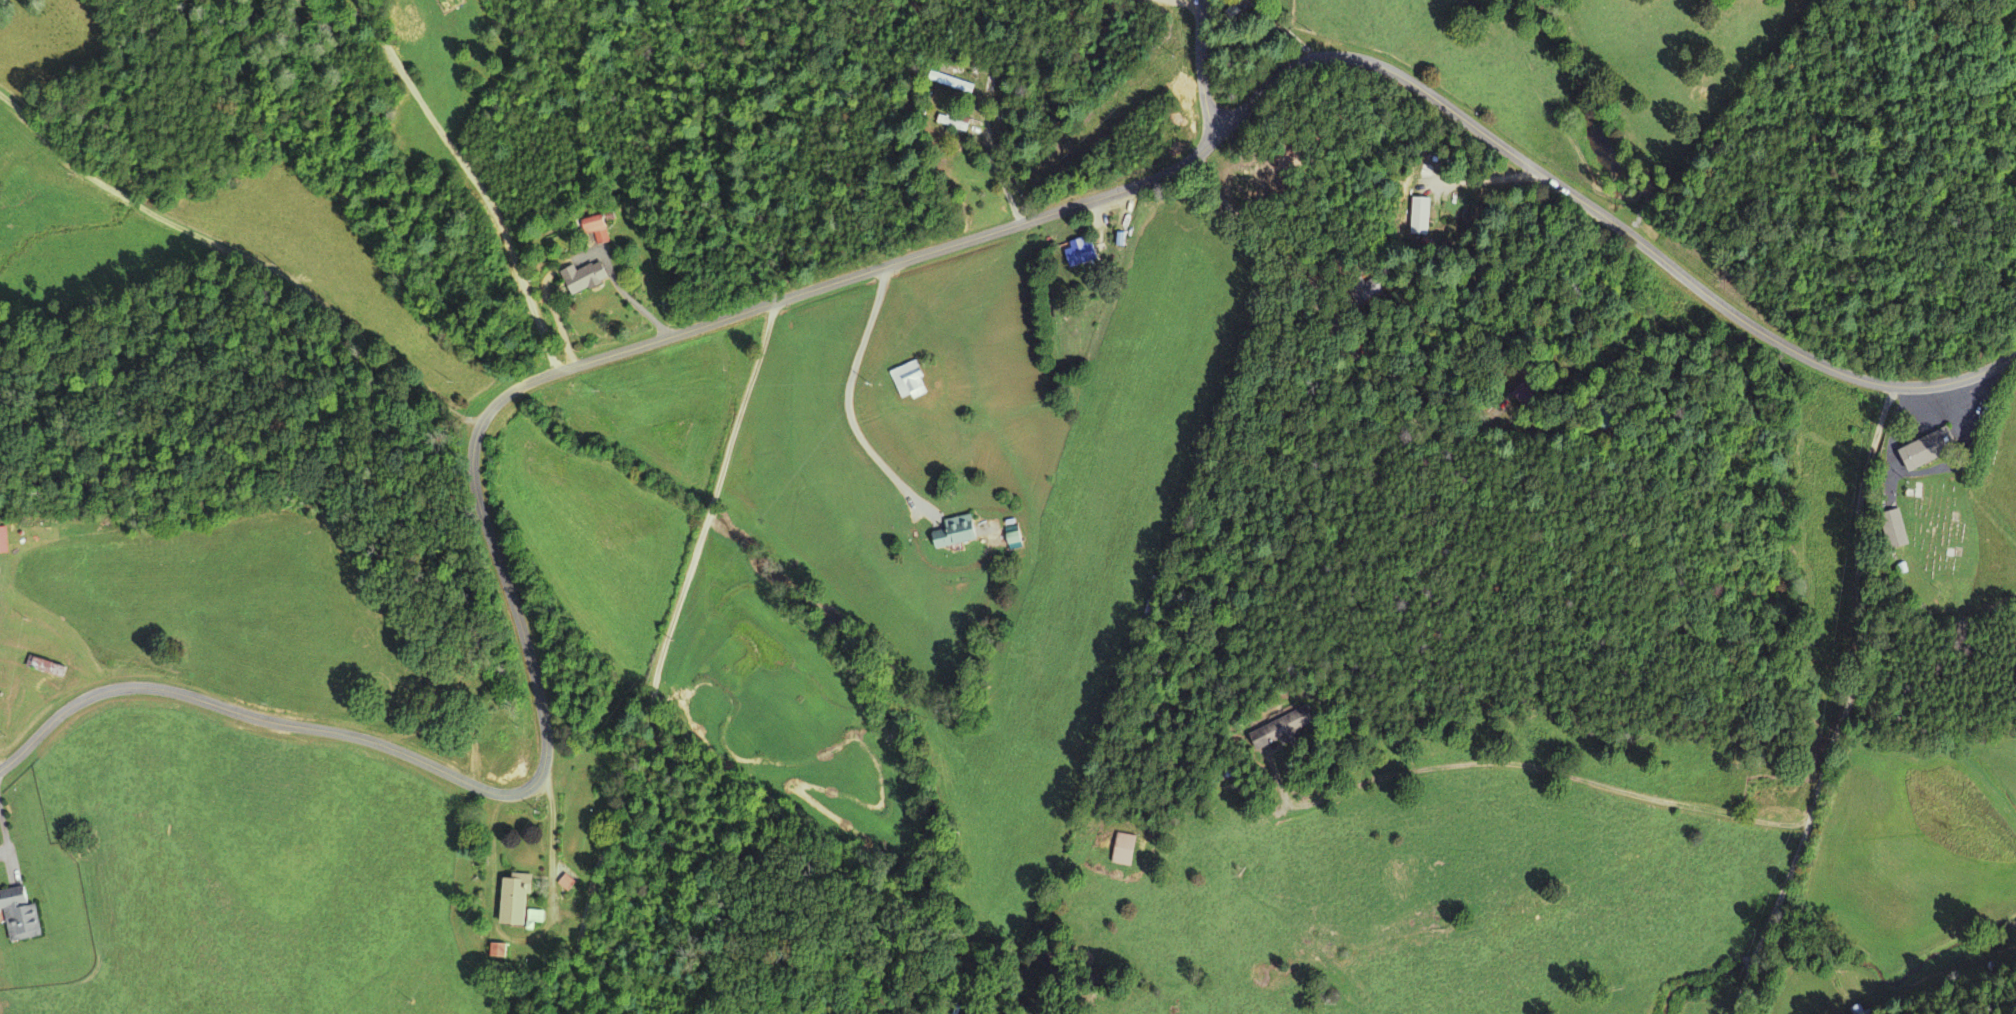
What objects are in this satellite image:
road: (1188, 3)
road: (1201, 68)
building: (954, 85)
building: (1420, 218)
building: (597, 230)
road: (244, 253)
building: (1084, 253)
building: (588, 279)
road: (833, 282)
road: (626, 287)
building: (913, 383)
building: (1923, 451)
road: (710, 509)
building: (1893, 531)
building: (962, 534)
building: (1018, 540)
building: (3, 543)
road: (1848, 707)
building: (1285, 729)
building: (1123, 851)
road: (604, 863)
building: (571, 884)
building: (521, 900)
building: (25, 915)
building: (504, 951)

